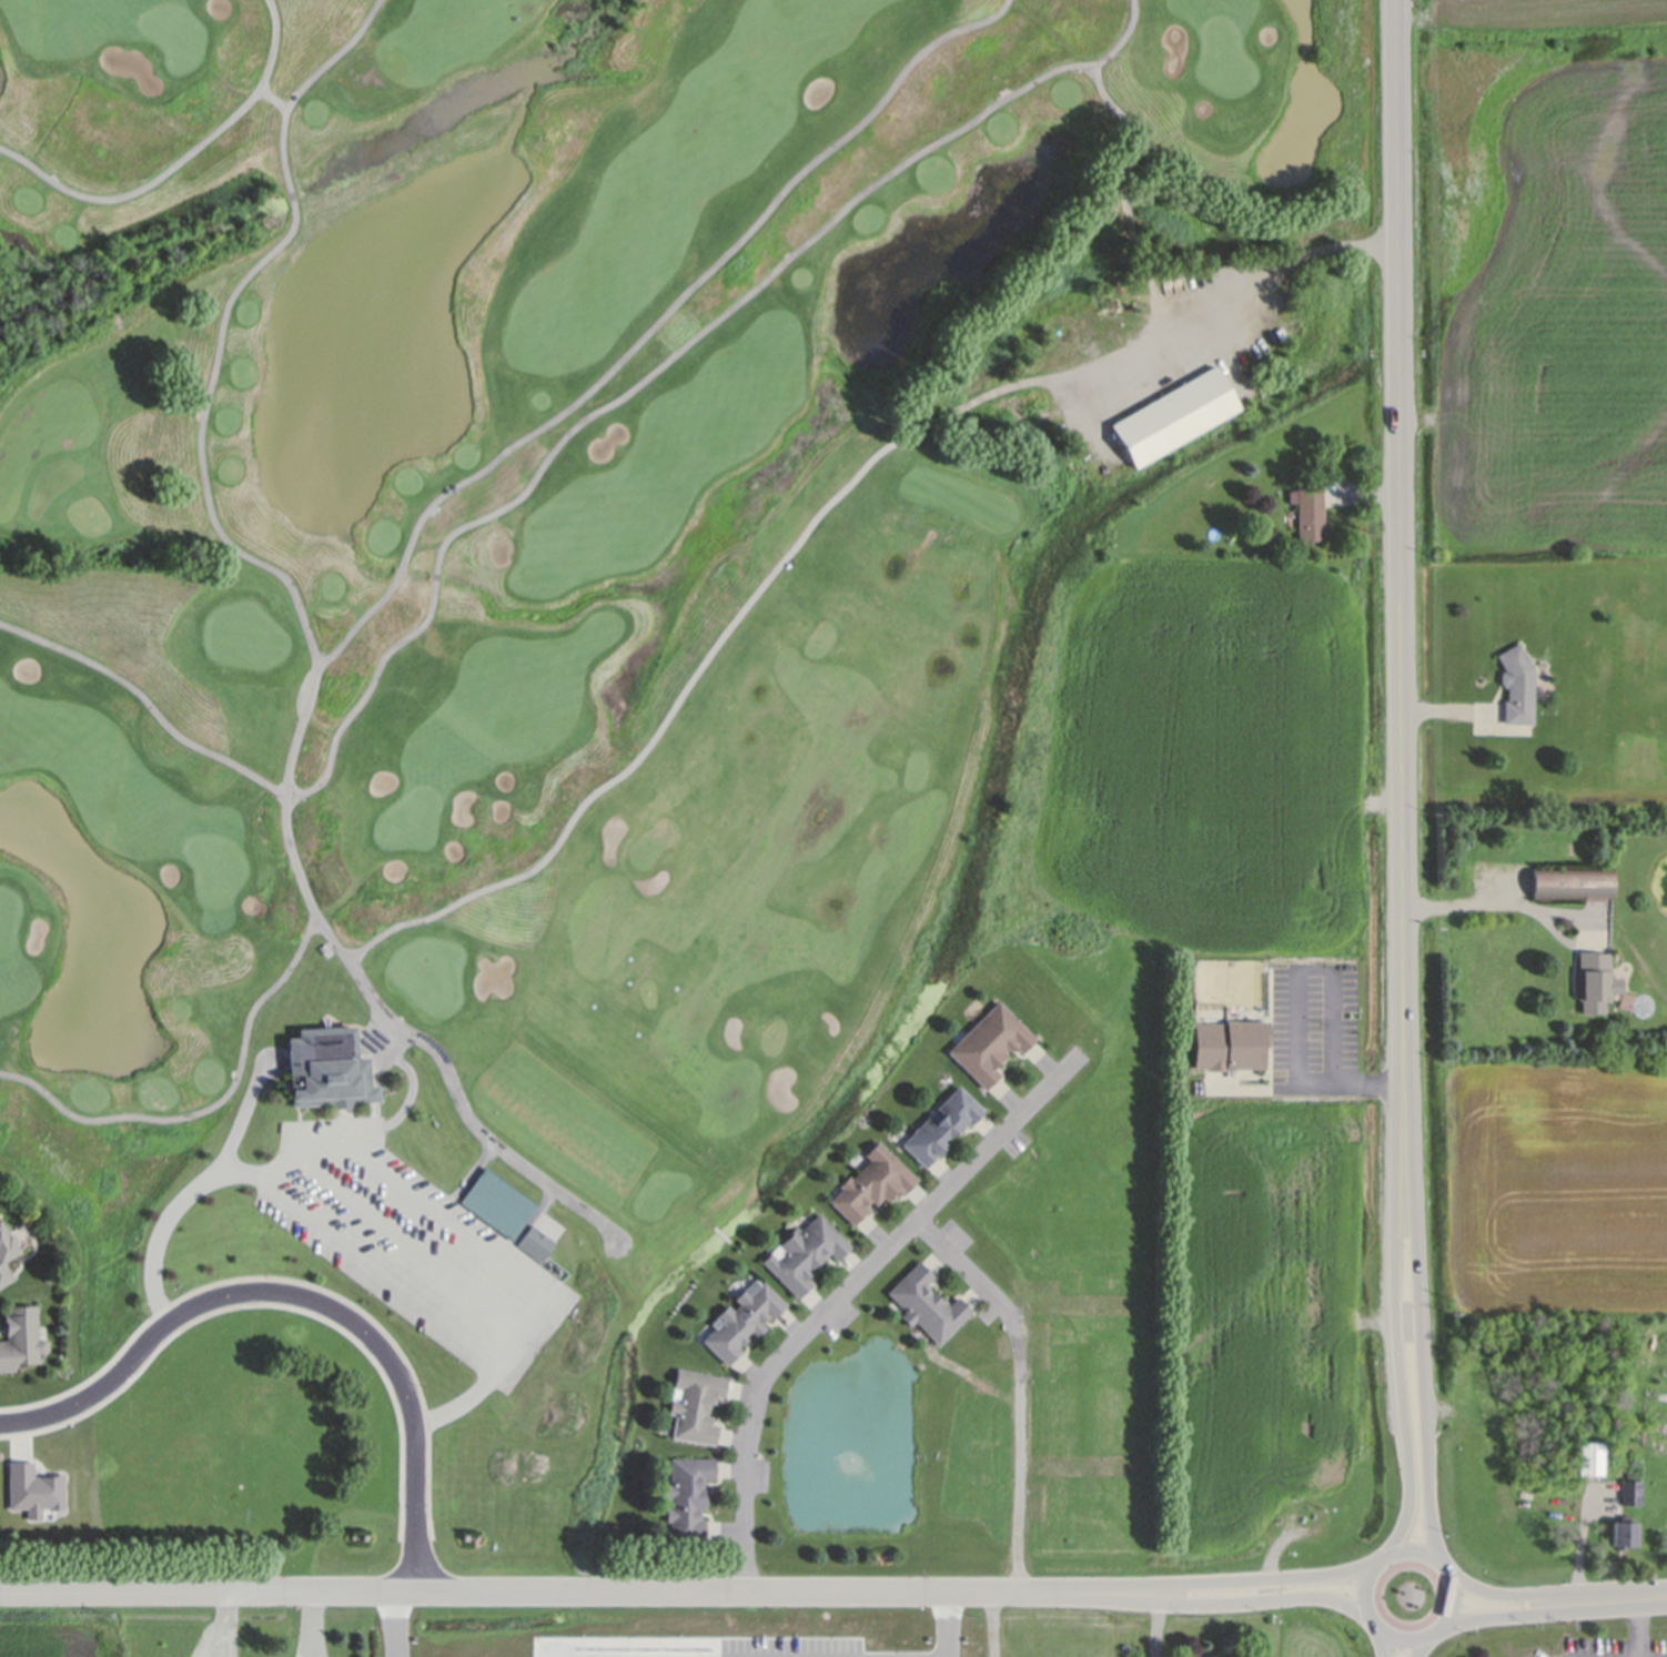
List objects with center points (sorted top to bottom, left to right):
crop: (1539, 281)
road: (1236, 286)
building: (1175, 414)
building: (1310, 513)
road: (1401, 542)
park: (556, 658)
building: (1517, 684)
building: (1562, 847)
building: (1573, 882)
road: (1482, 901)
building: (1594, 980)
road: (1291, 1010)
building: (990, 1042)
building: (1231, 1044)
building: (329, 1068)
building: (942, 1125)
road: (294, 1159)
building: (872, 1183)
crop: (1544, 1184)
building: (497, 1203)
road: (440, 1215)
road: (327, 1234)
parking lot: (403, 1242)
road: (411, 1243)
building: (535, 1243)
building: (7, 1253)
building: (806, 1253)
road: (835, 1292)
road: (302, 1297)
building: (927, 1304)
building: (742, 1321)
road: (1395, 1322)
road: (1420, 1325)
road: (518, 1335)
building: (21, 1338)
crop: (1274, 1341)
road: (1012, 1384)
building: (696, 1405)
building: (1639, 1433)
building: (1590, 1458)
building: (1630, 1493)
building: (687, 1496)
building: (1623, 1534)
road: (1438, 1560)
road: (1200, 1583)
road: (511, 1590)
road: (1657, 1590)
road: (1545, 1595)
road: (1645, 1597)
road: (1655, 1603)
road: (1198, 1606)
road: (1543, 1613)
road: (223, 1624)
road: (313, 1624)
road: (393, 1624)
road: (939, 1624)
road: (992, 1624)
road: (1155, 1630)
road: (1637, 1630)
crop: (64, 1631)
road: (1383, 1645)
road: (1423, 1646)

